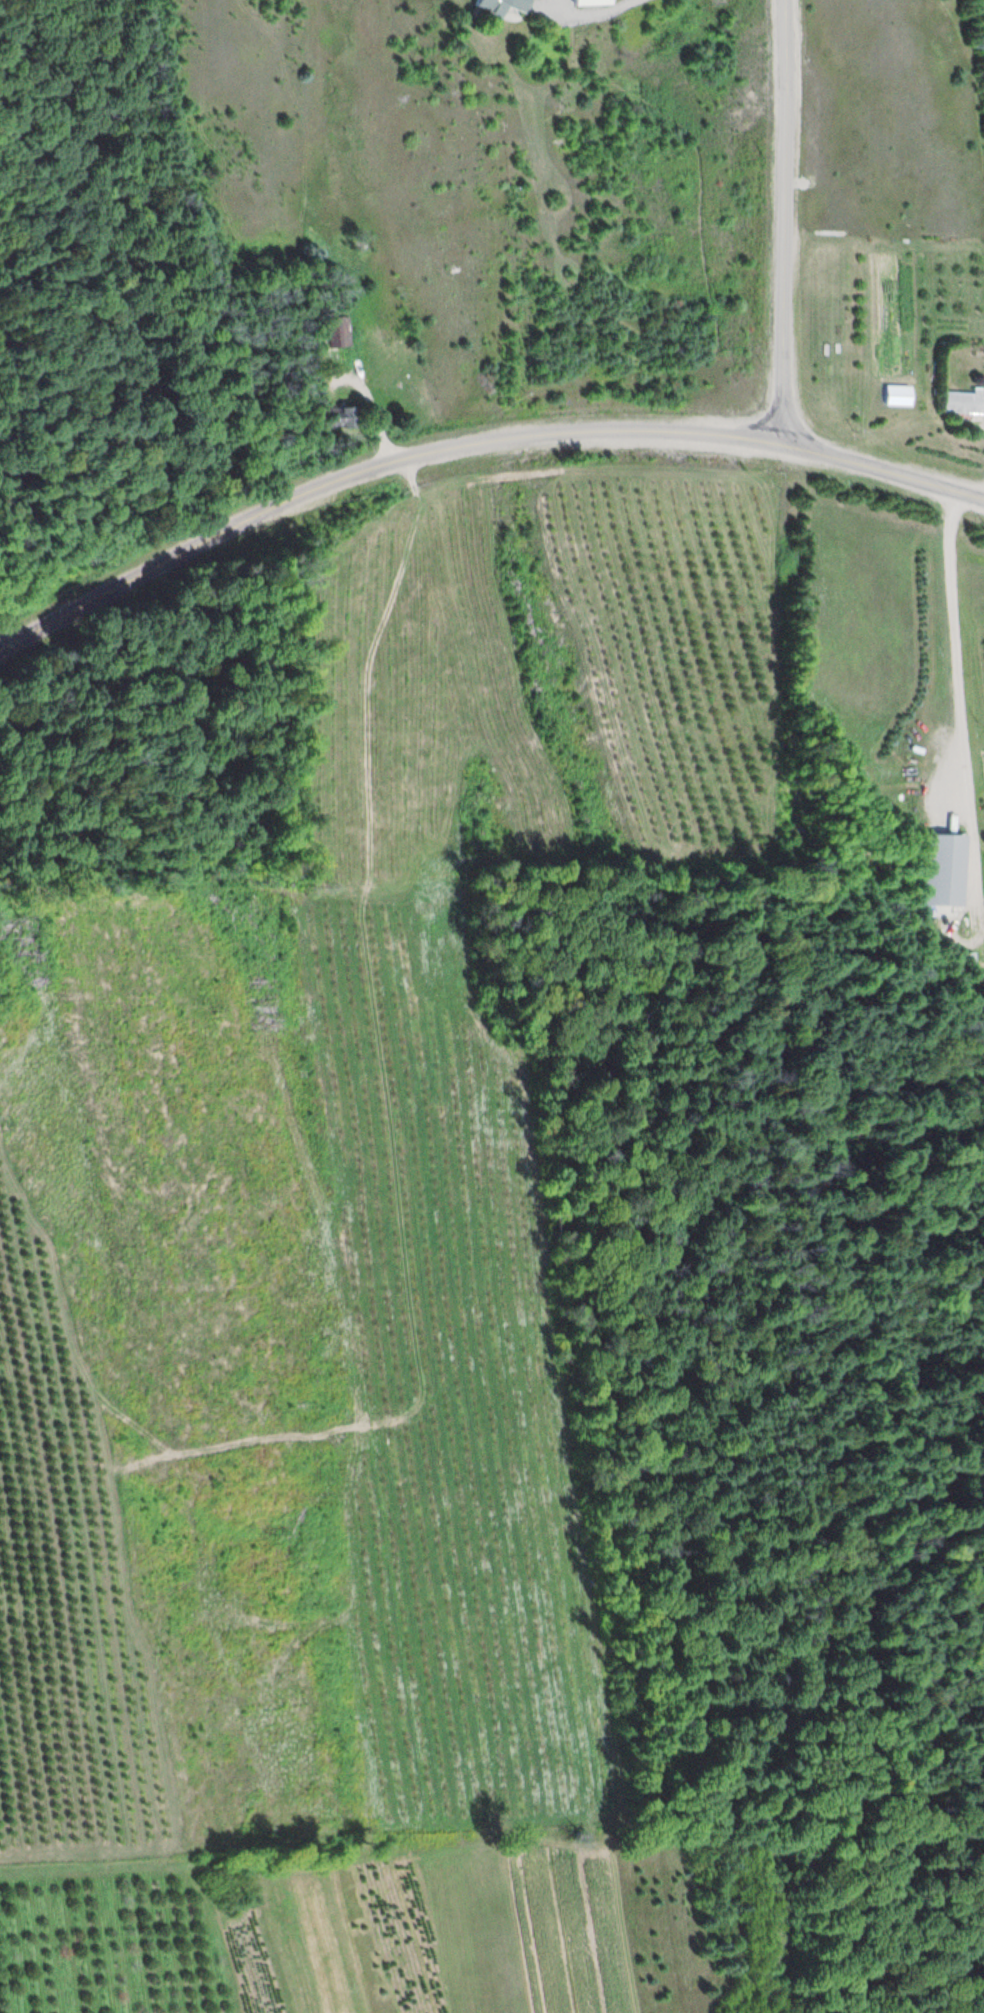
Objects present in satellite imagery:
building: (589, 3)
building: (498, 6)
road: (785, 223)
building: (332, 332)
building: (962, 404)
building: (335, 418)
road: (474, 443)
building: (943, 871)

